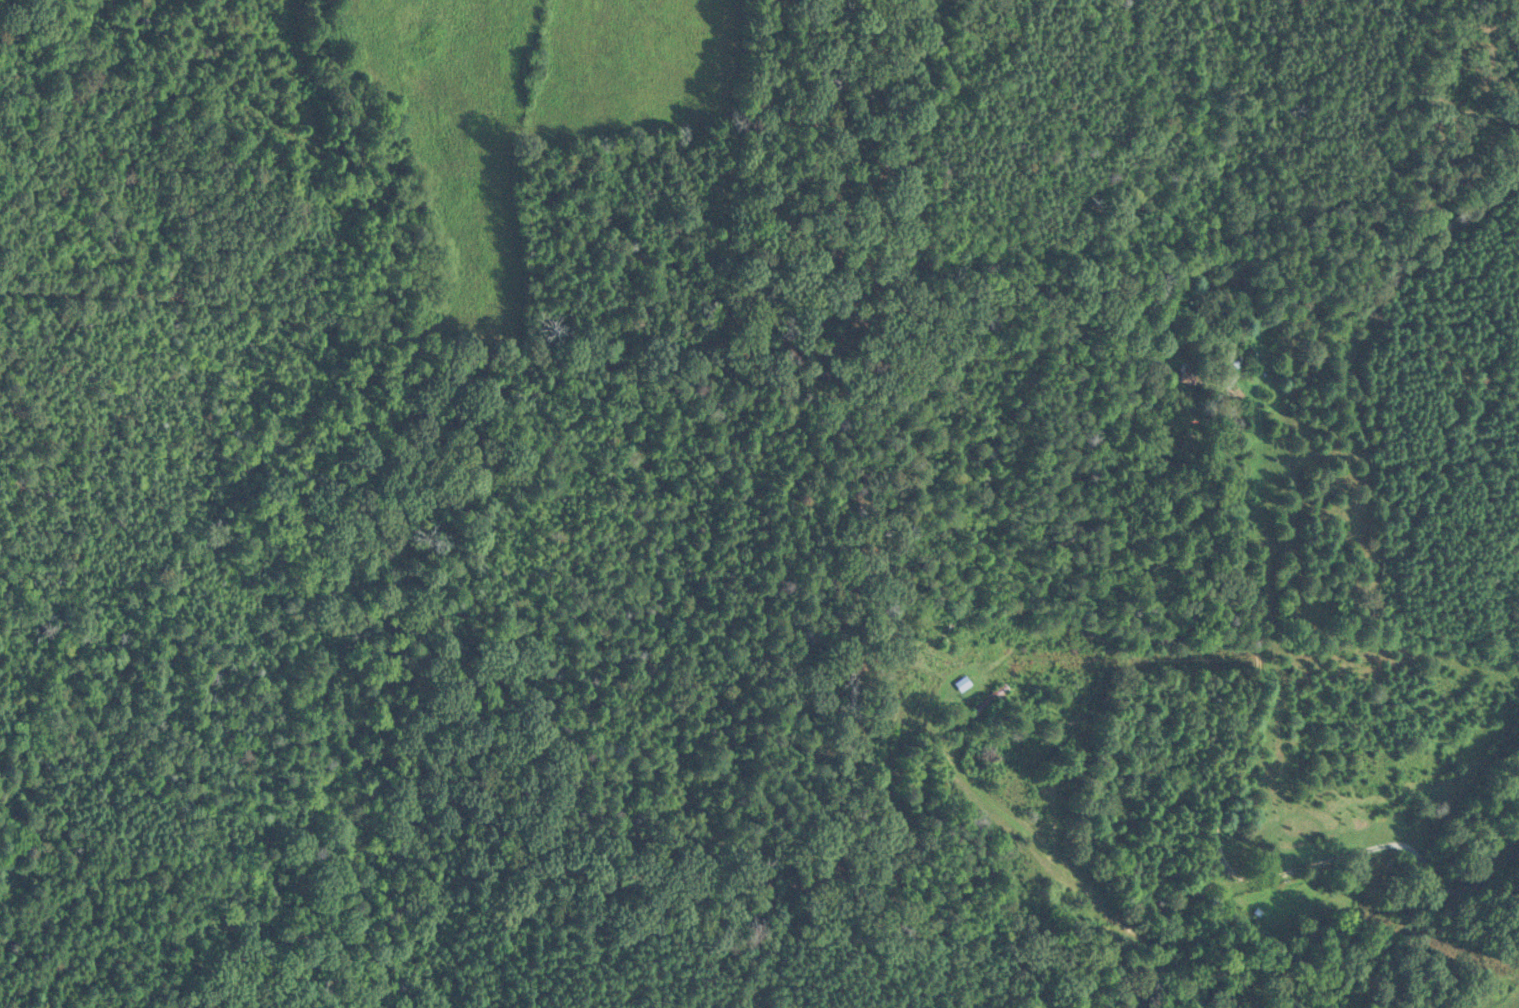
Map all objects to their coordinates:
building: (1185, 374)
road: (1215, 818)

